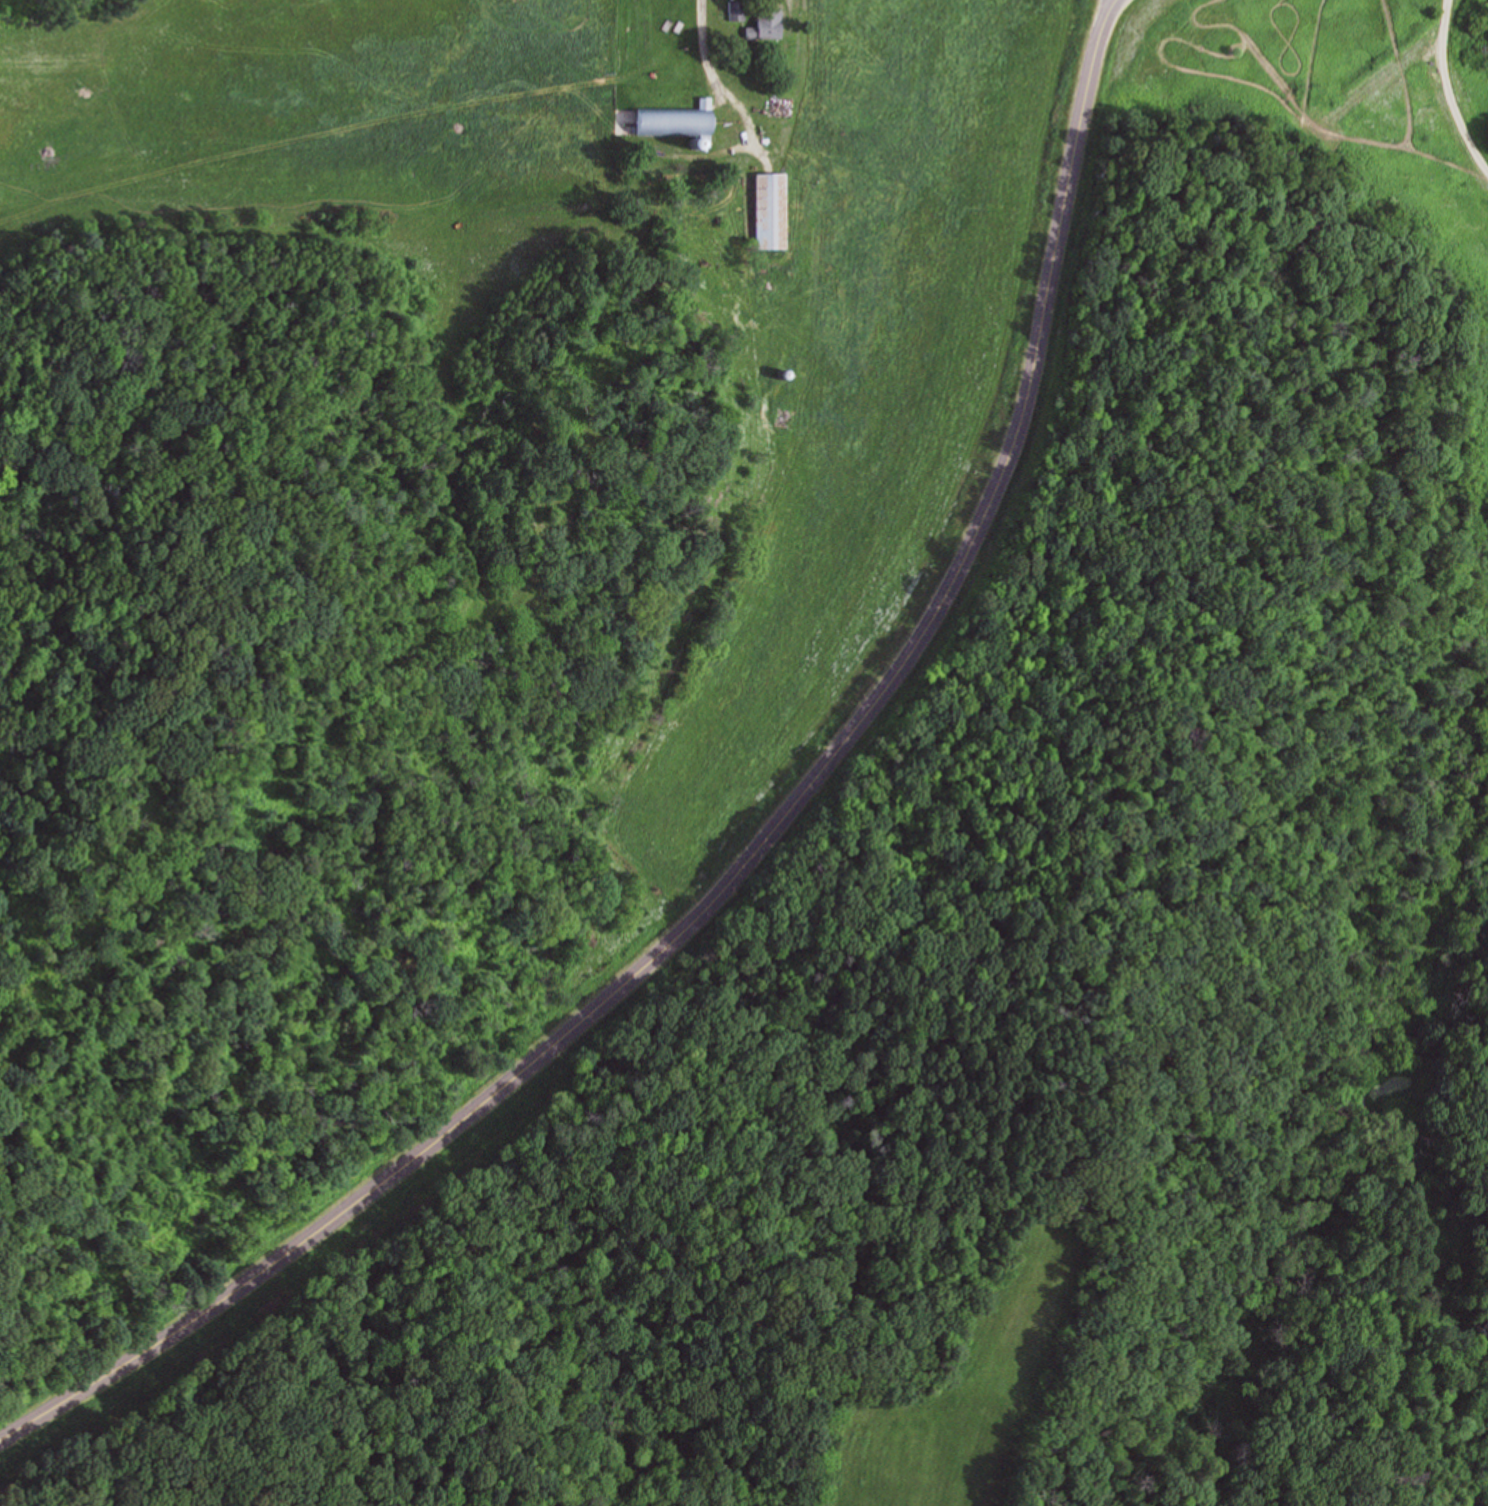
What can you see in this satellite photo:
building: (736, 10)
building: (770, 20)
road: (713, 78)
building: (681, 120)
crop: (314, 123)
building: (775, 210)
crop: (866, 425)
road: (744, 854)
crop: (3, 1187)
crop: (985, 1391)

